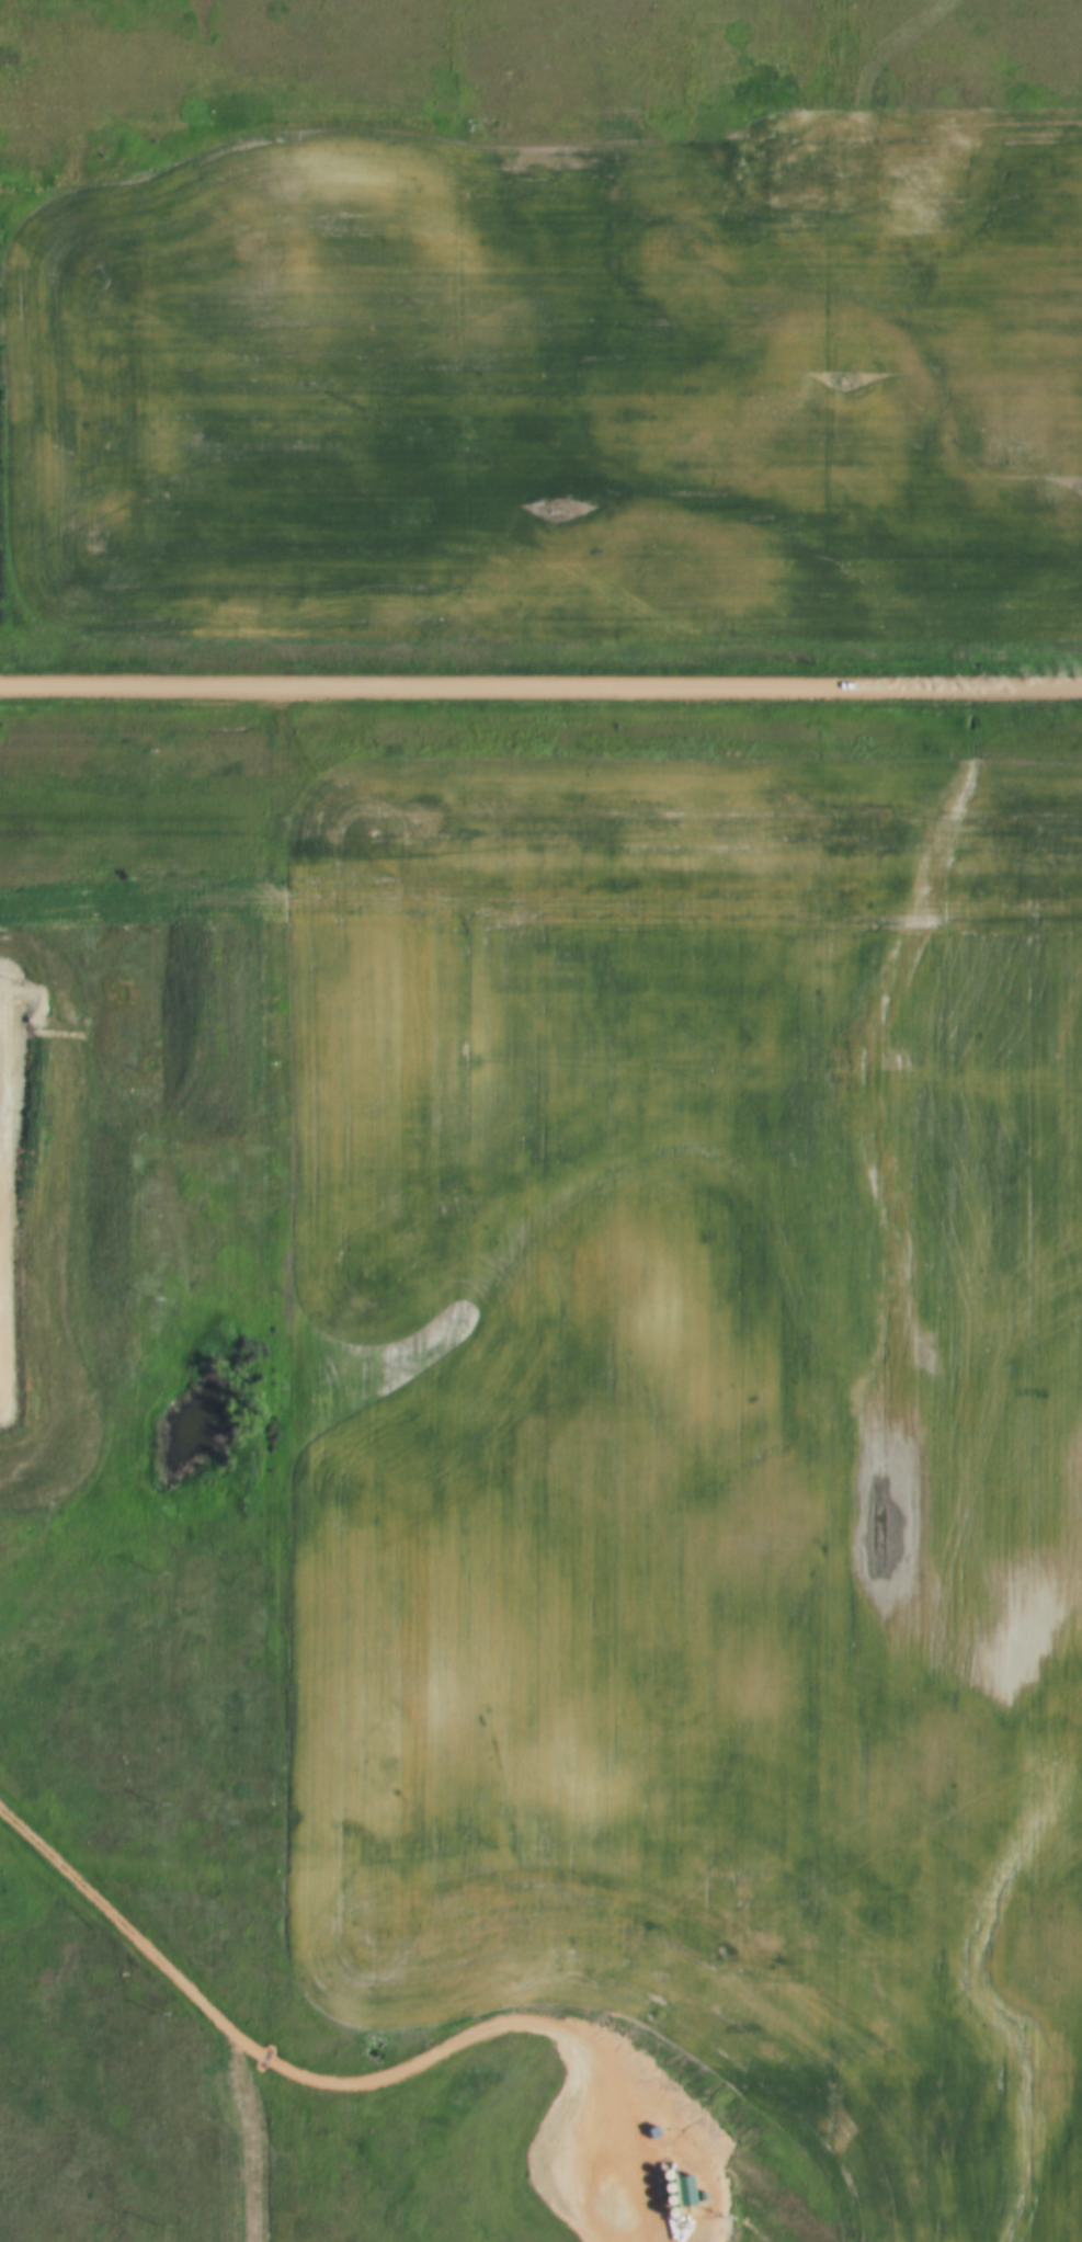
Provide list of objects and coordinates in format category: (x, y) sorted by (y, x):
road: (540, 692)
road: (254, 2055)
road: (683, 2119)
building: (648, 2129)
road: (603, 2140)
building: (668, 2165)
building: (676, 2188)
building: (696, 2194)
petroleum well: (613, 2217)

